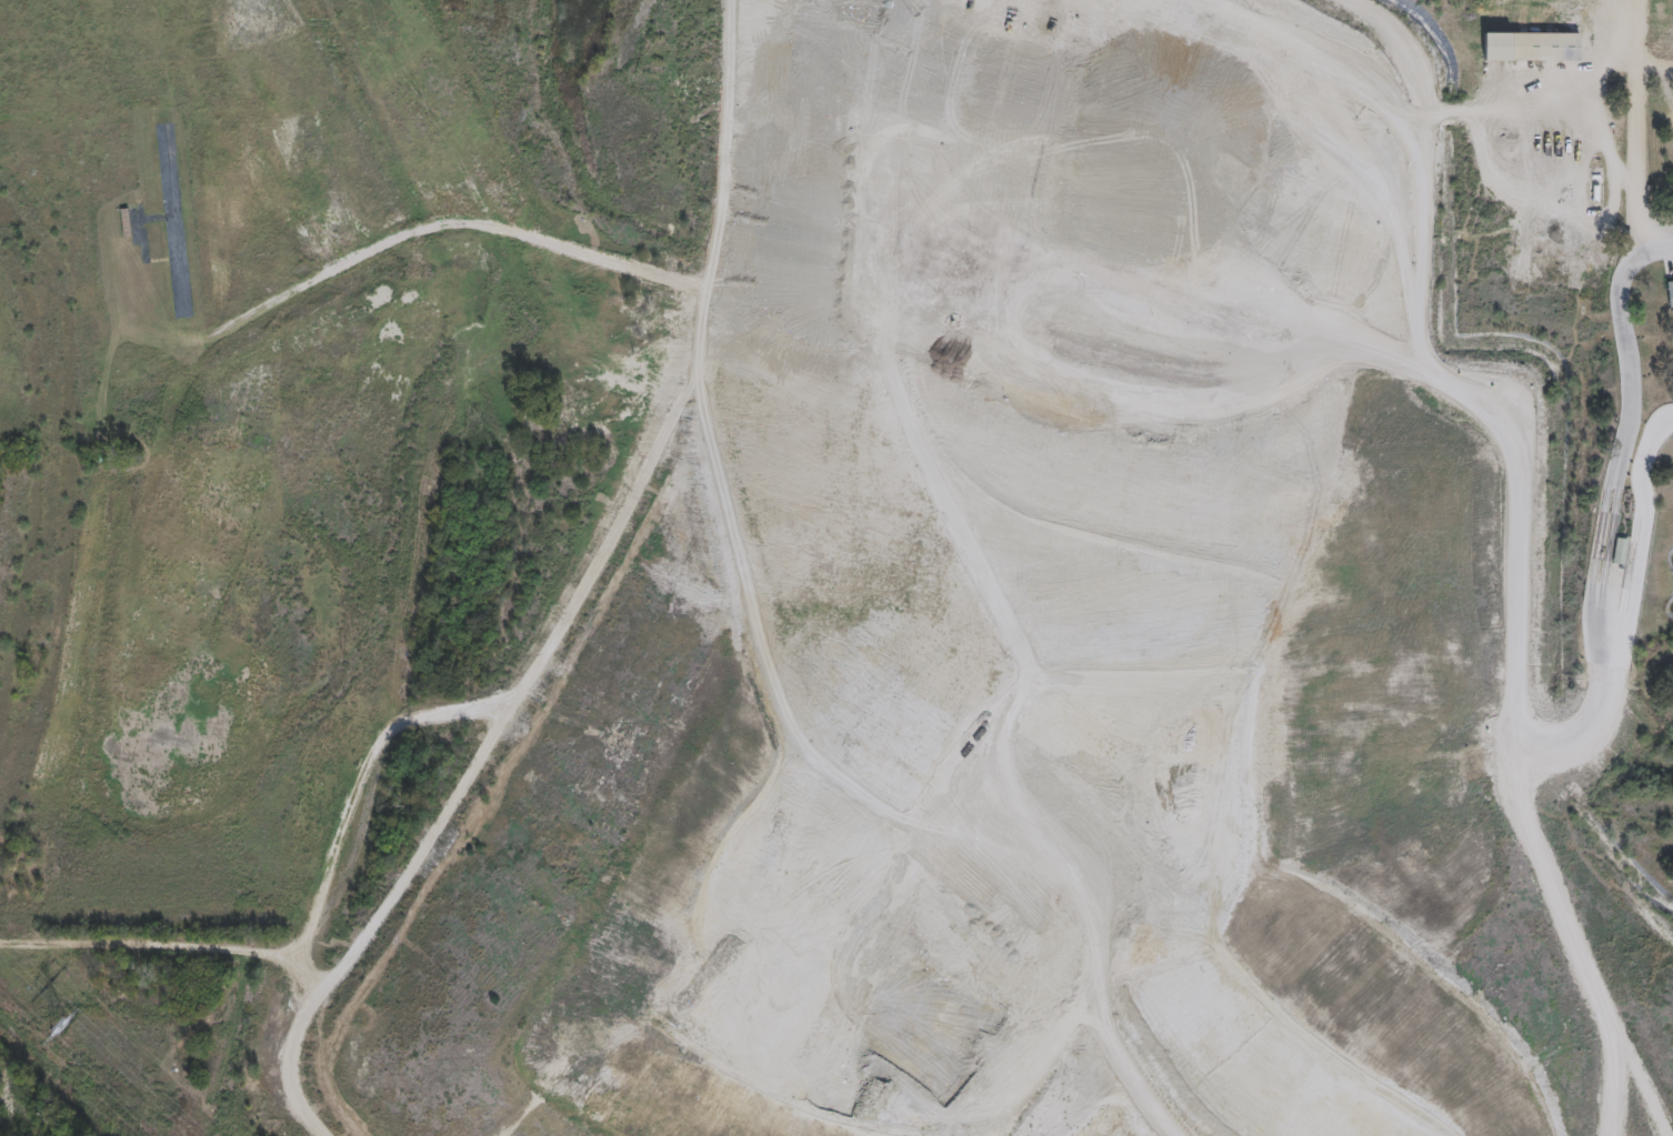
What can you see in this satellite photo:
building: (1529, 48)
road: (1643, 127)
building: (1669, 292)
road: (1631, 435)
road: (1654, 510)
building: (1617, 550)
power tower: (54, 1027)

